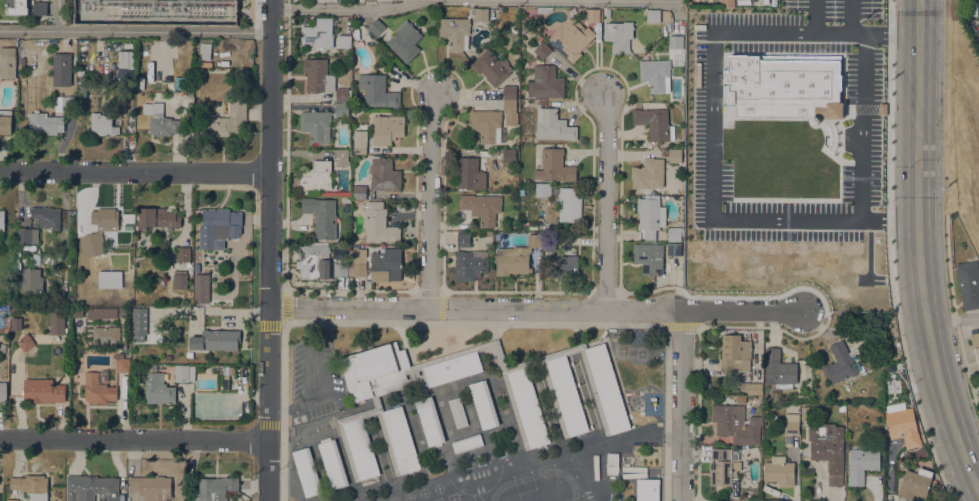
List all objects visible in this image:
building: (369, 0)
building: (727, 3)
building: (26, 7)
road: (345, 8)
building: (544, 8)
power substation: (159, 12)
building: (479, 13)
road: (56, 14)
road: (254, 15)
building: (592, 15)
building: (653, 15)
road: (816, 17)
road: (850, 17)
building: (376, 27)
road: (135, 29)
building: (318, 32)
building: (455, 32)
building: (619, 35)
building: (571, 38)
building: (343, 40)
building: (404, 41)
building: (676, 41)
building: (542, 49)
building: (205, 50)
building: (800, 59)
building: (7, 65)
building: (125, 65)
building: (491, 67)
building: (80, 72)
building: (655, 74)
building: (318, 75)
building: (545, 82)
road: (270, 86)
building: (68, 87)
building: (24, 88)
building: (784, 88)
building: (82, 90)
building: (377, 90)
building: (510, 92)
building: (343, 94)
building: (65, 103)
building: (342, 109)
building: (510, 112)
building: (227, 120)
building: (815, 120)
building: (6, 121)
building: (164, 121)
building: (45, 122)
building: (655, 122)
building: (103, 124)
building: (487, 124)
building: (316, 125)
building: (553, 125)
road: (713, 127)
building: (387, 128)
road: (862, 128)
building: (360, 141)
building: (665, 152)
building: (509, 155)
building: (675, 155)
building: (341, 156)
building: (555, 165)
road: (135, 171)
building: (470, 173)
building: (648, 173)
building: (384, 174)
building: (316, 175)
road: (443, 187)
building: (542, 189)
building: (360, 192)
road: (430, 197)
road: (606, 198)
building: (570, 204)
building: (482, 207)
building: (321, 216)
building: (648, 216)
building: (47, 217)
building: (157, 218)
building: (2, 220)
building: (378, 223)
building: (218, 227)
building: (100, 229)
building: (78, 230)
building: (675, 233)
building: (27, 235)
road: (269, 239)
building: (463, 239)
building: (548, 243)
road: (921, 247)
building: (674, 249)
building: (183, 253)
road: (889, 254)
building: (516, 256)
building: (51, 257)
building: (649, 257)
building: (24, 258)
building: (313, 259)
building: (376, 263)
building: (470, 264)
building: (560, 265)
building: (341, 269)
building: (109, 278)
building: (180, 279)
building: (31, 280)
building: (969, 283)
building: (201, 288)
road: (349, 307)
road: (482, 308)
road: (571, 308)
road: (644, 308)
building: (122, 311)
building: (101, 312)
road: (743, 315)
road: (952, 317)
building: (57, 320)
building: (139, 320)
building: (16, 322)
road: (472, 322)
building: (106, 335)
building: (216, 339)
building: (25, 341)
building: (593, 343)
road: (698, 343)
building: (975, 344)
building: (2, 347)
building: (735, 353)
building: (189, 354)
building: (168, 357)
building: (541, 359)
building: (843, 362)
building: (121, 363)
building: (402, 369)
building: (779, 369)
building: (184, 372)
road: (269, 374)
building: (225, 375)
building: (98, 387)
building: (751, 387)
building: (159, 388)
building: (605, 388)
building: (42, 389)
building: (3, 391)
building: (565, 396)
building: (484, 404)
building: (373, 408)
building: (526, 408)
road: (681, 408)
building: (457, 412)
building: (430, 421)
building: (736, 424)
building: (902, 424)
road: (268, 425)
building: (791, 427)
road: (134, 440)
building: (398, 440)
building: (467, 442)
building: (357, 446)
building: (828, 449)
building: (333, 463)
building: (862, 464)
building: (724, 465)
road: (268, 471)
building: (307, 471)
building: (779, 471)
building: (915, 482)
building: (31, 486)
building: (152, 487)
building: (91, 488)
building: (214, 488)
building: (647, 489)
building: (12, 500)

